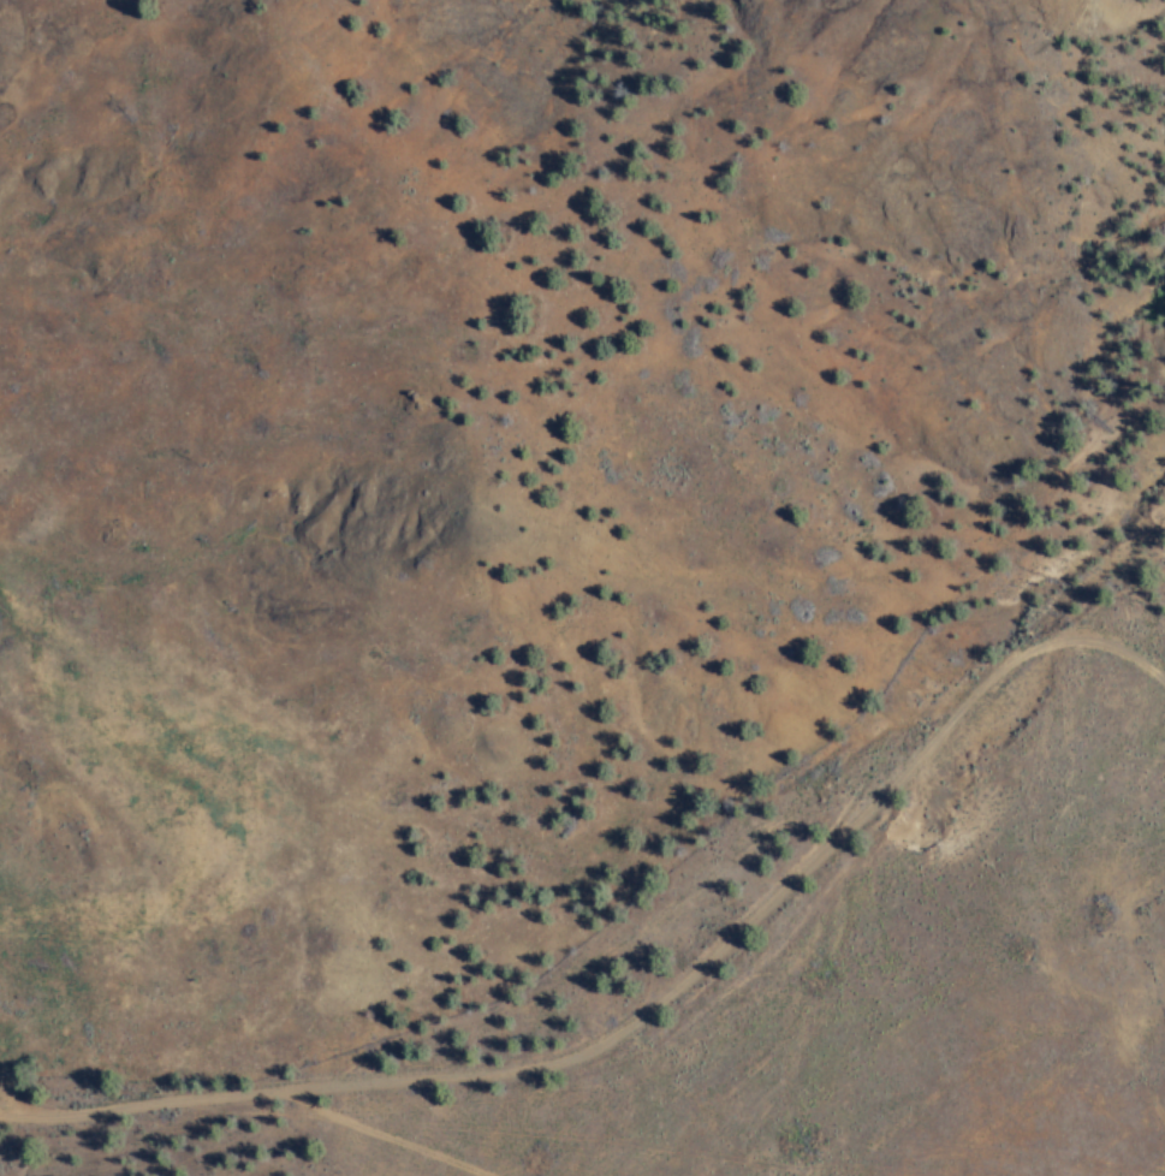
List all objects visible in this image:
road: (1163, 504)
road: (1163, 511)

